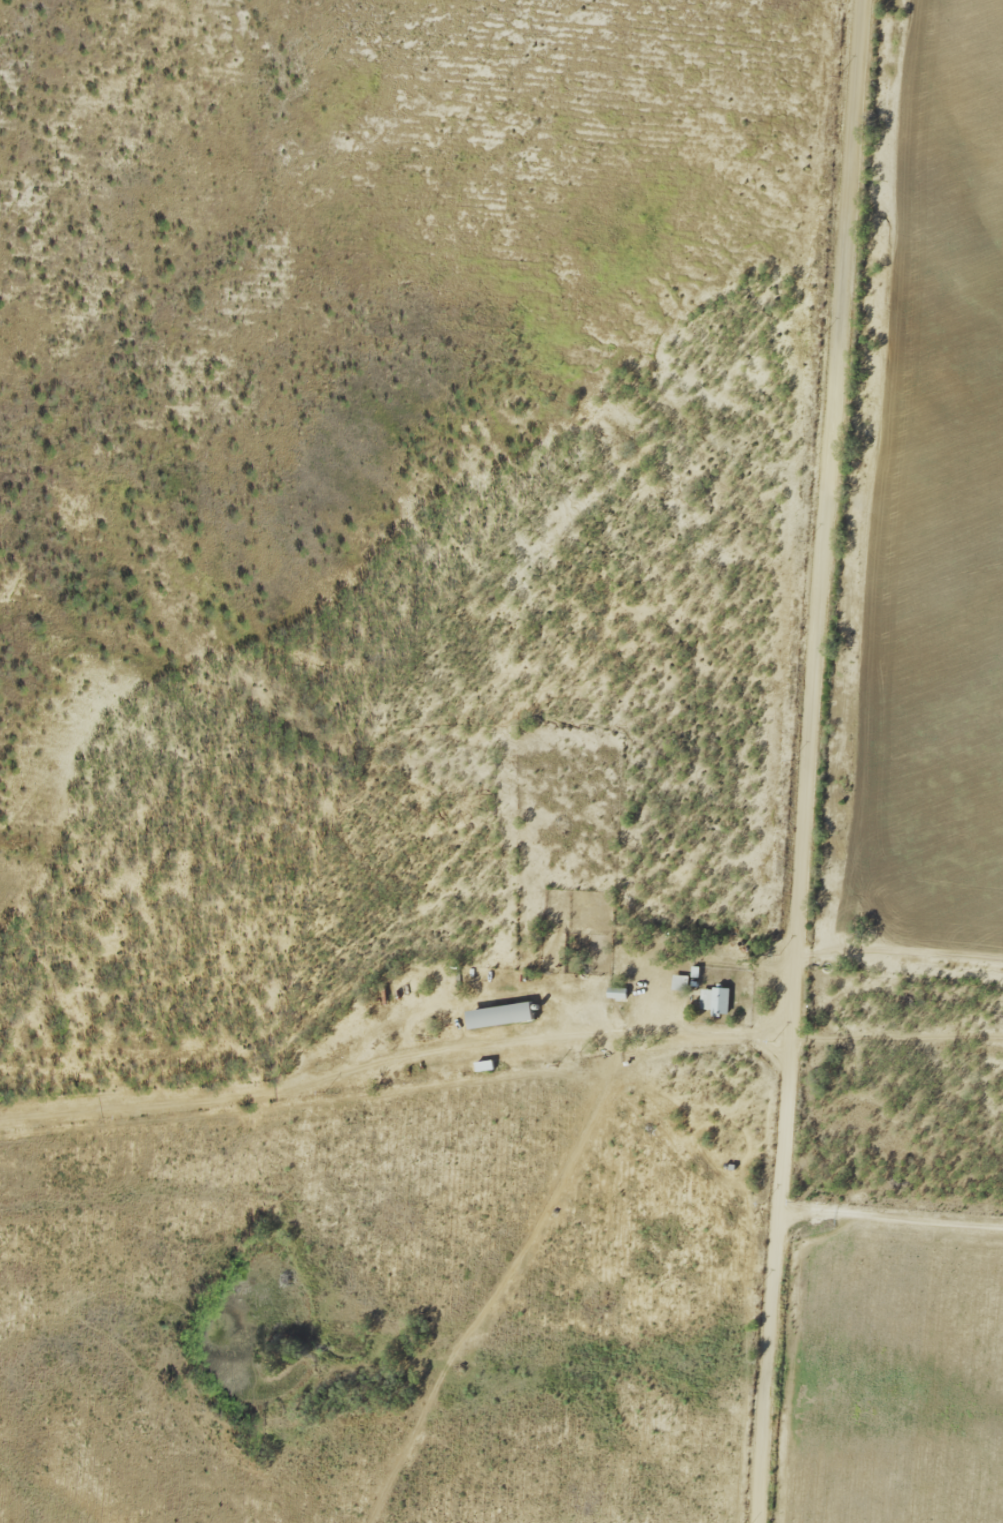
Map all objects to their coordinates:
road: (804, 761)
building: (681, 985)
building: (505, 1018)
road: (391, 1061)
road: (895, 1213)

